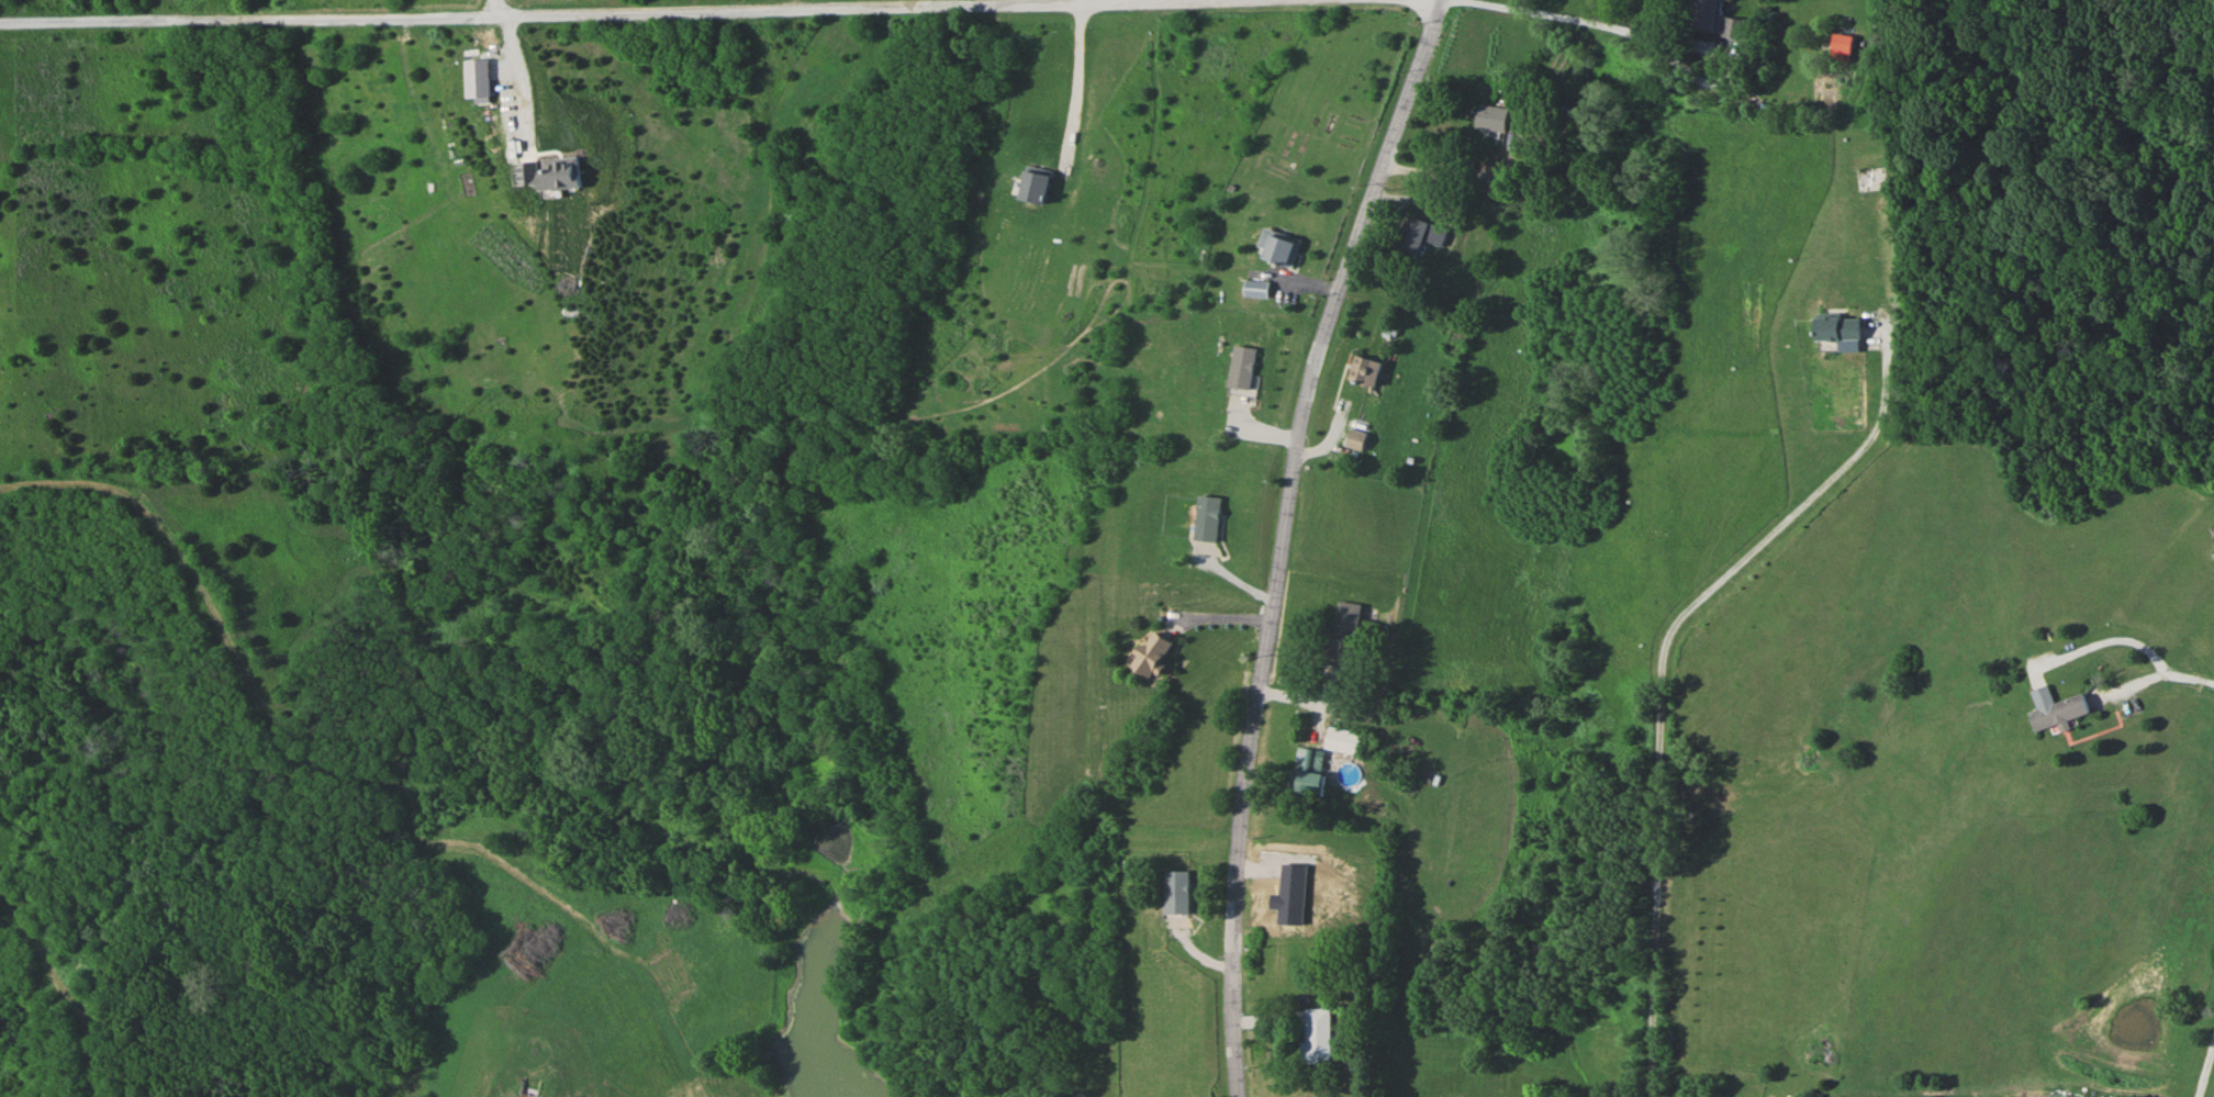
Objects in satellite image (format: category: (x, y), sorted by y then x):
road: (493, 7)
road: (536, 12)
road: (1563, 16)
building: (1841, 46)
building: (476, 78)
road: (519, 79)
road: (1073, 81)
building: (1490, 117)
building: (549, 173)
road: (1466, 175)
building: (1035, 184)
building: (1420, 235)
building: (1283, 248)
building: (1256, 289)
building: (1840, 332)
building: (1241, 367)
building: (1365, 370)
building: (1356, 439)
building: (1207, 518)
road: (1282, 537)
building: (1343, 634)
road: (2113, 639)
building: (1152, 654)
road: (1659, 669)
road: (2198, 680)
building: (2055, 709)
road: (1364, 713)
building: (1344, 740)
building: (1308, 771)
building: (1179, 892)
building: (1290, 895)
road: (2204, 1064)

